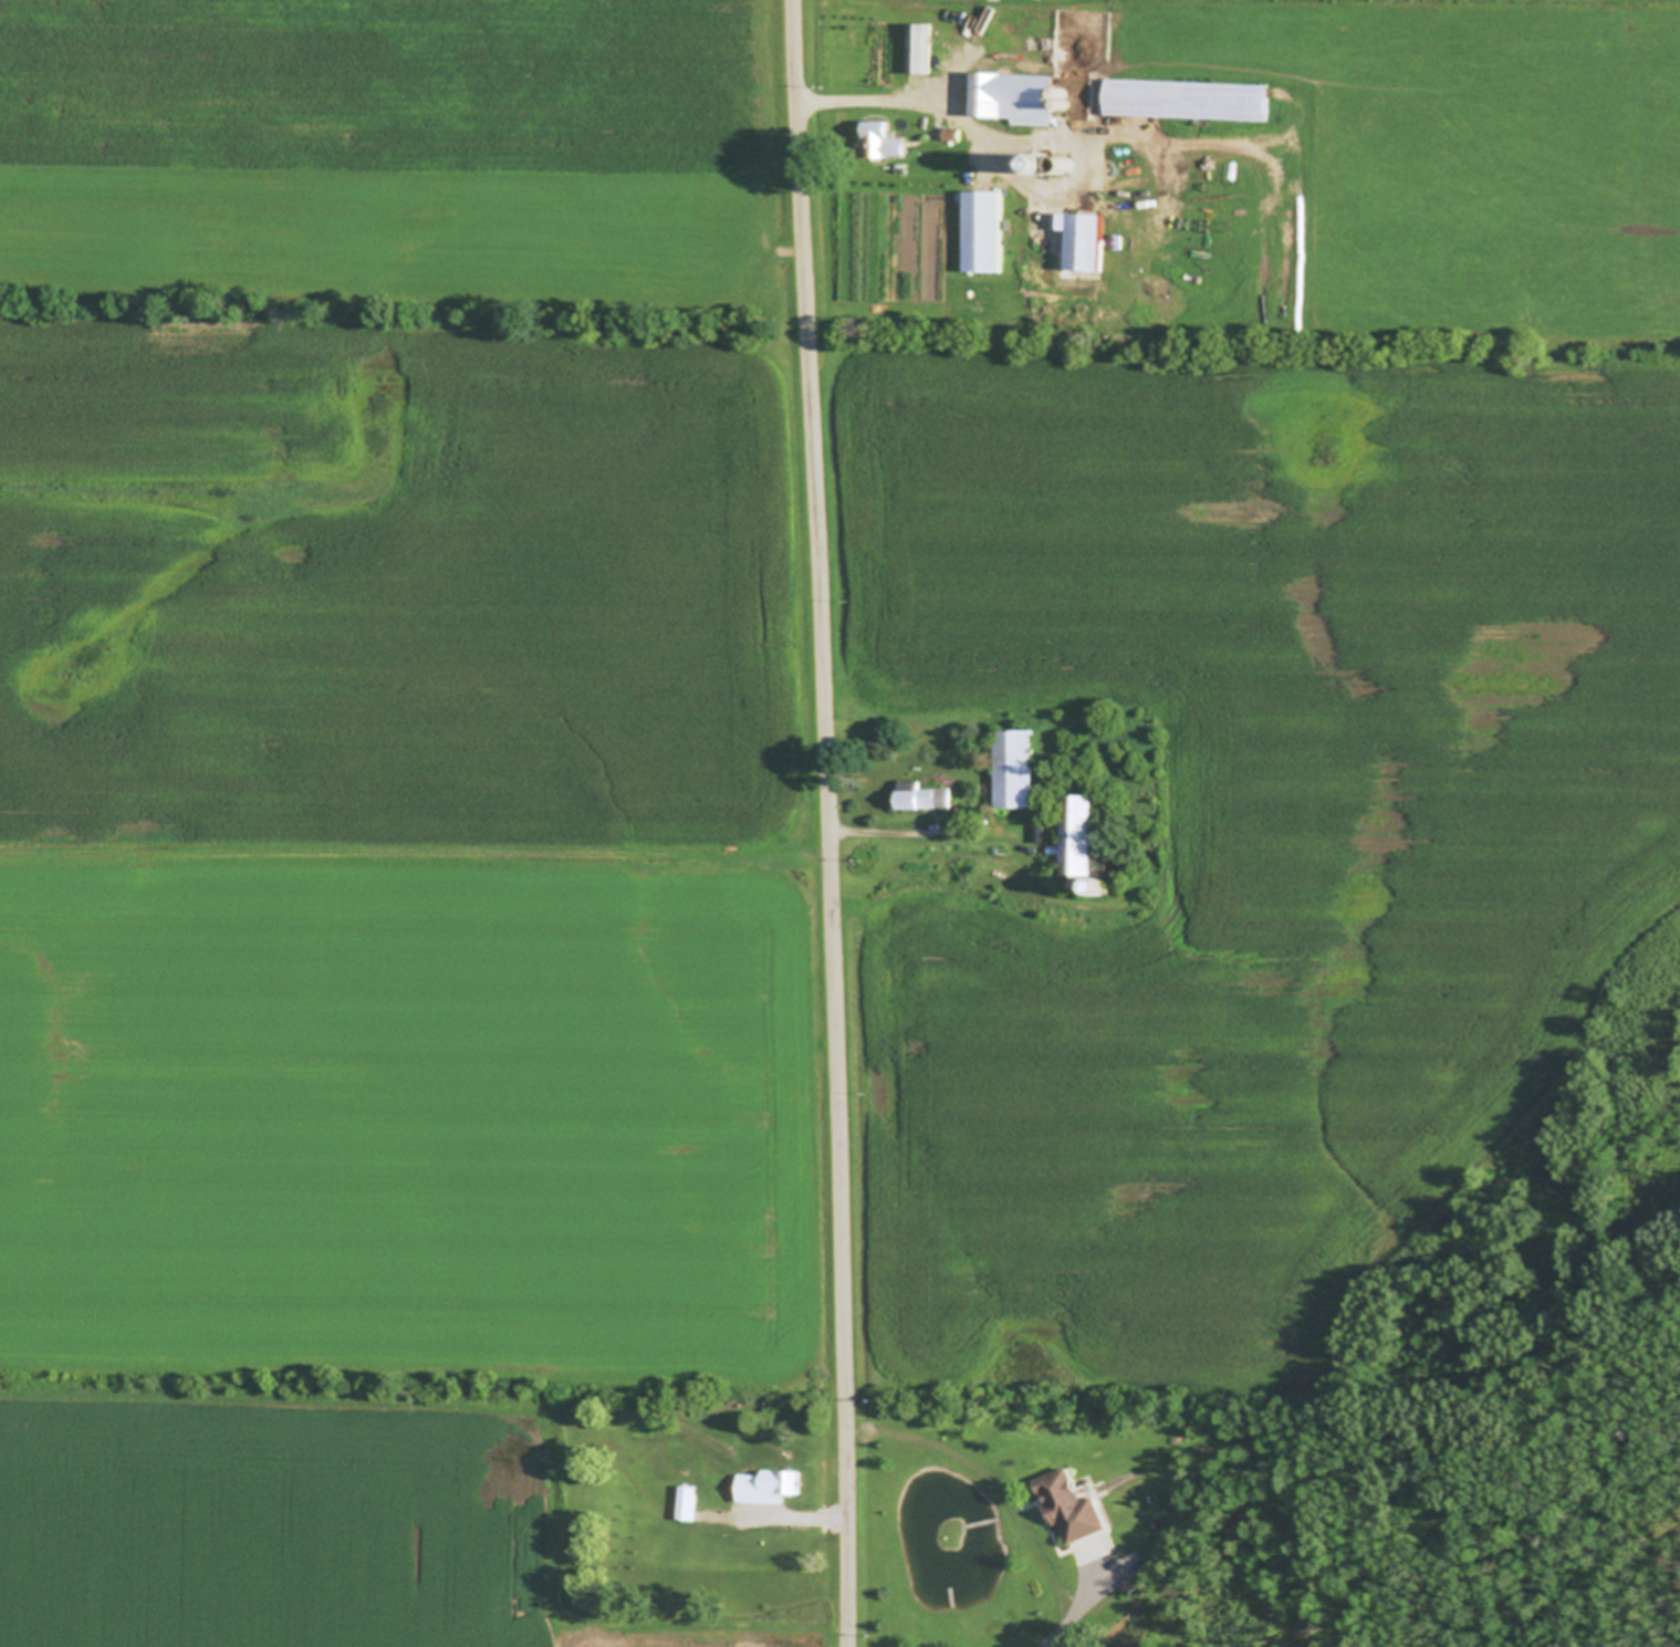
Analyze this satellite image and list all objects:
building: (921, 49)
building: (1016, 97)
building: (1191, 100)
building: (954, 134)
building: (884, 138)
building: (1048, 163)
building: (1069, 166)
building: (984, 231)
building: (1086, 242)
building: (1018, 769)
building: (924, 794)
road: (833, 823)
building: (1089, 840)
building: (1091, 882)
building: (1106, 886)
building: (1228, 1450)
building: (775, 1481)
building: (691, 1501)
building: (1072, 1504)
road: (1072, 1616)

